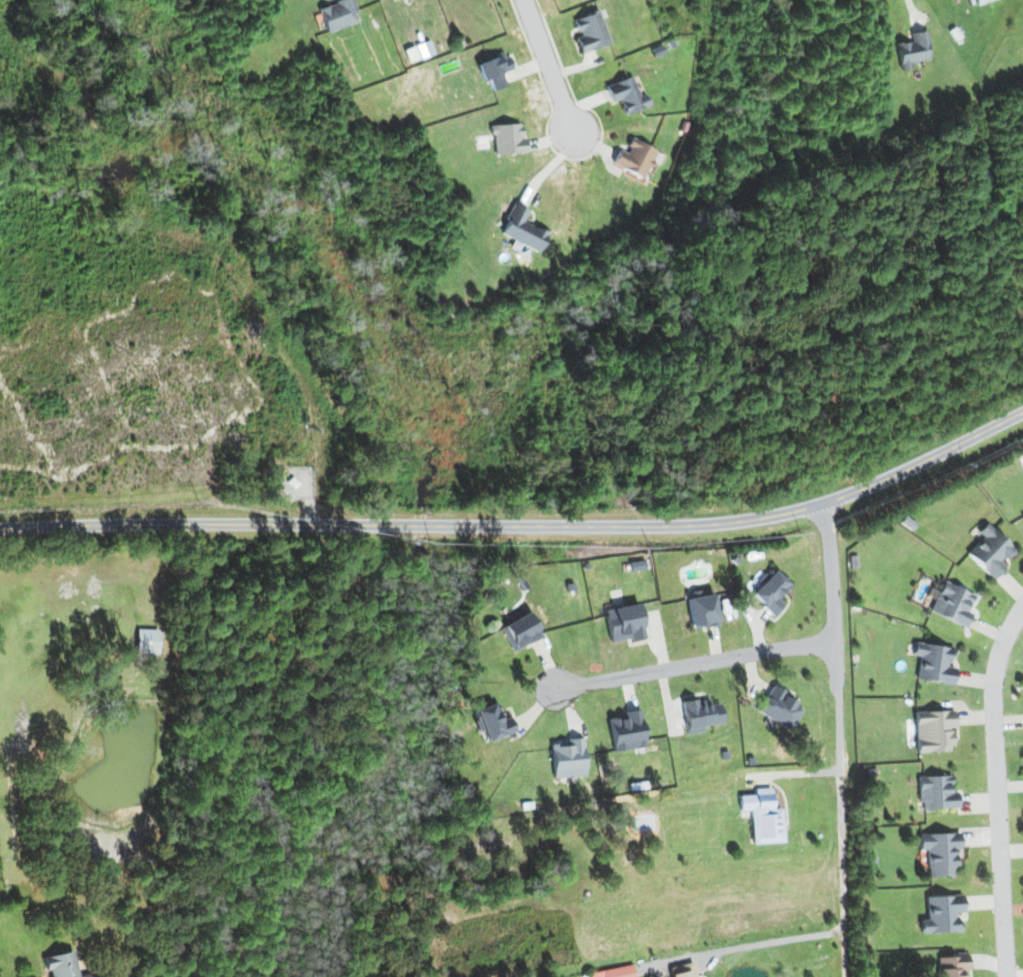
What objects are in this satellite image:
building: (979, 1)
road: (910, 10)
building: (337, 14)
building: (590, 32)
building: (911, 49)
road: (559, 68)
building: (494, 70)
building: (626, 95)
building: (507, 138)
building: (635, 158)
building: (521, 229)
building: (1022, 514)
road: (522, 523)
building: (989, 551)
building: (636, 565)
building: (770, 592)
road: (831, 595)
building: (952, 603)
building: (701, 611)
building: (623, 622)
building: (519, 631)
building: (146, 641)
building: (933, 663)
road: (694, 664)
building: (779, 708)
building: (699, 714)
building: (492, 722)
building: (626, 730)
building: (933, 730)
building: (566, 758)
road: (996, 787)
building: (936, 792)
building: (762, 816)
road: (841, 833)
building: (939, 852)
building: (941, 913)
road: (772, 943)
building: (63, 965)
building: (951, 965)
building: (682, 970)
building: (613, 972)

